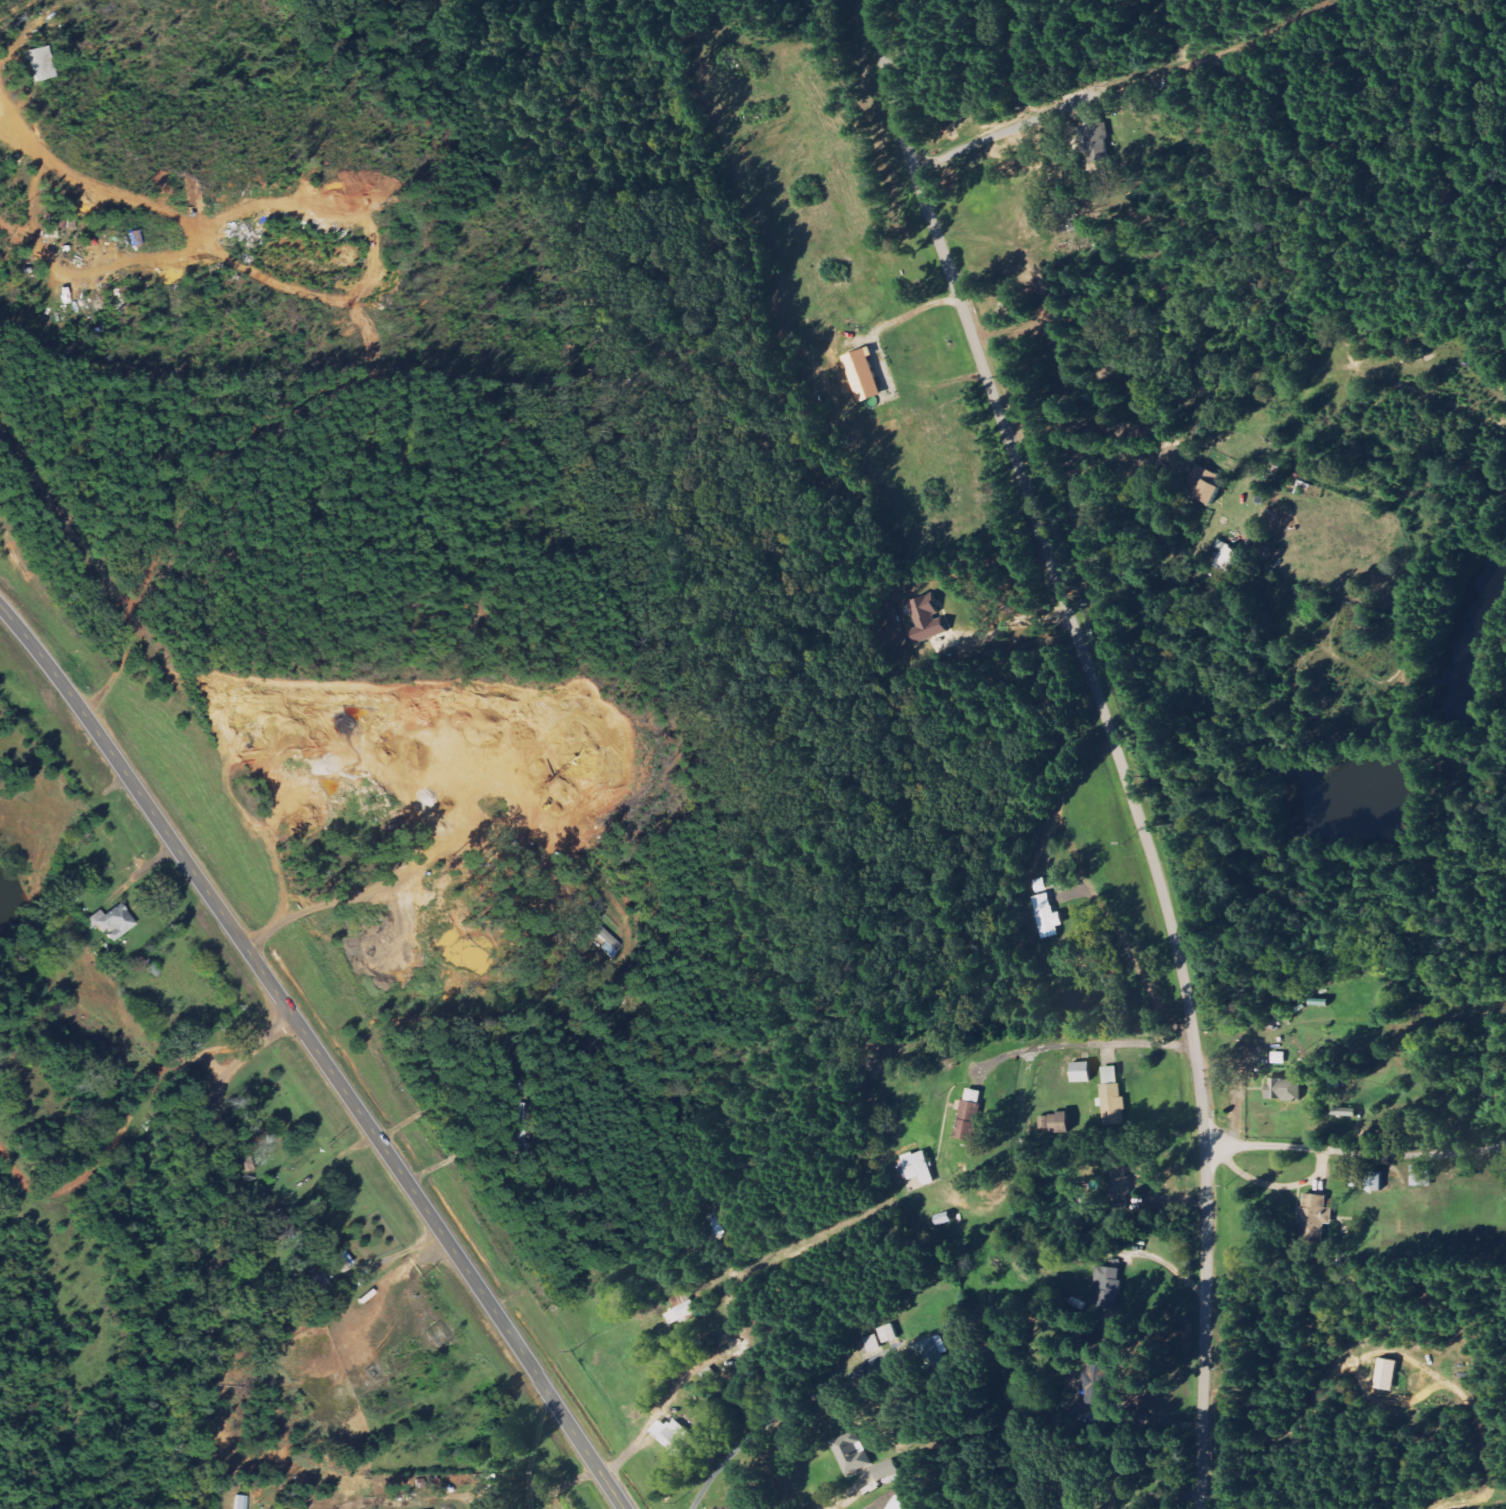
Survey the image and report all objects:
building: (39, 63)
building: (863, 373)
building: (1204, 483)
building: (1228, 559)
building: (926, 616)
road: (1113, 741)
road: (1068, 778)
building: (1044, 911)
building: (110, 922)
building: (609, 941)
road: (1103, 1041)
road: (317, 1053)
building: (1279, 1058)
building: (1081, 1071)
building: (1284, 1089)
building: (1344, 1113)
building: (969, 1115)
road: (1356, 1148)
building: (919, 1167)
building: (1422, 1175)
building: (1375, 1181)
building: (1119, 1184)
building: (1315, 1217)
building: (277, 1224)
road: (218, 1245)
building: (1109, 1280)
building: (927, 1355)
building: (1386, 1374)
building: (1093, 1385)
road: (770, 1419)
building: (673, 1437)
building: (850, 1452)
building: (881, 1469)
building: (239, 1502)
building: (897, 1503)

